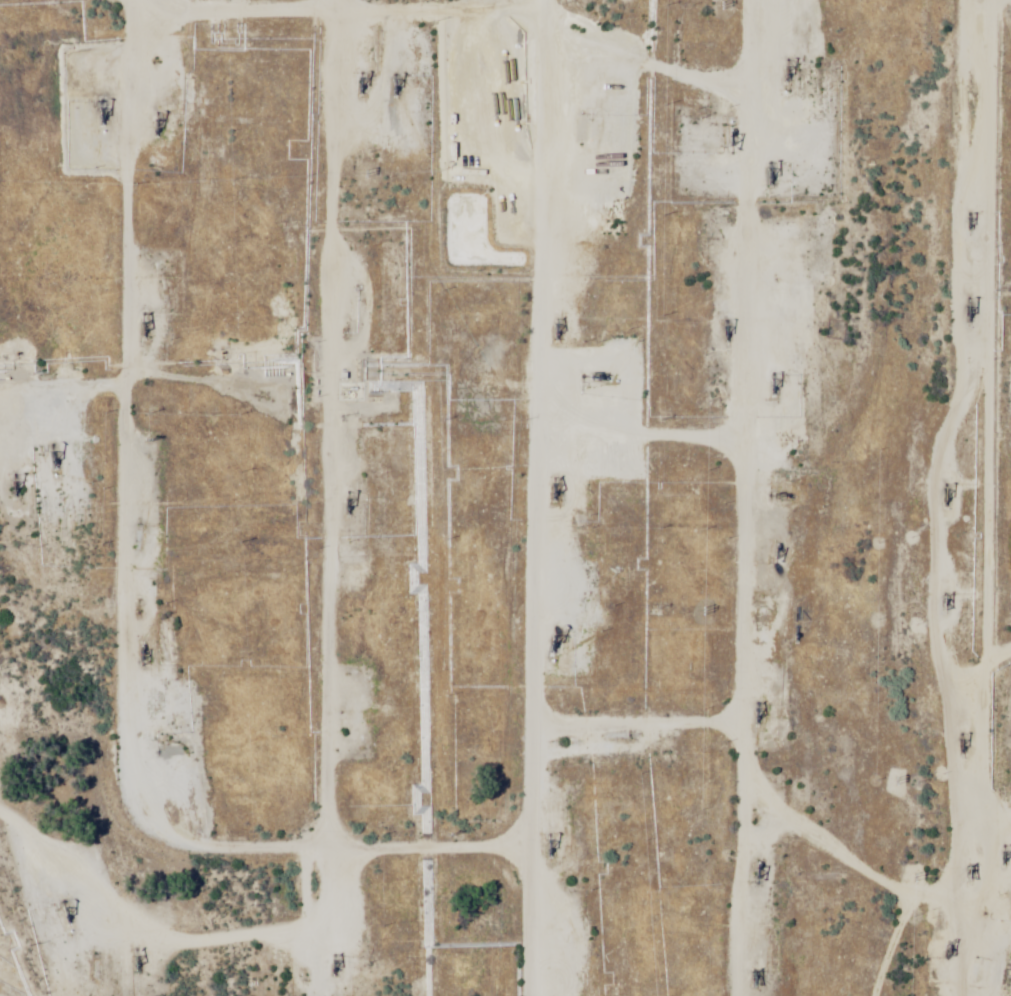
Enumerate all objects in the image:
road: (964, 1)
road: (352, 31)
road: (289, 433)
road: (936, 440)
road: (733, 462)
road: (703, 497)
road: (502, 498)
road: (88, 608)

